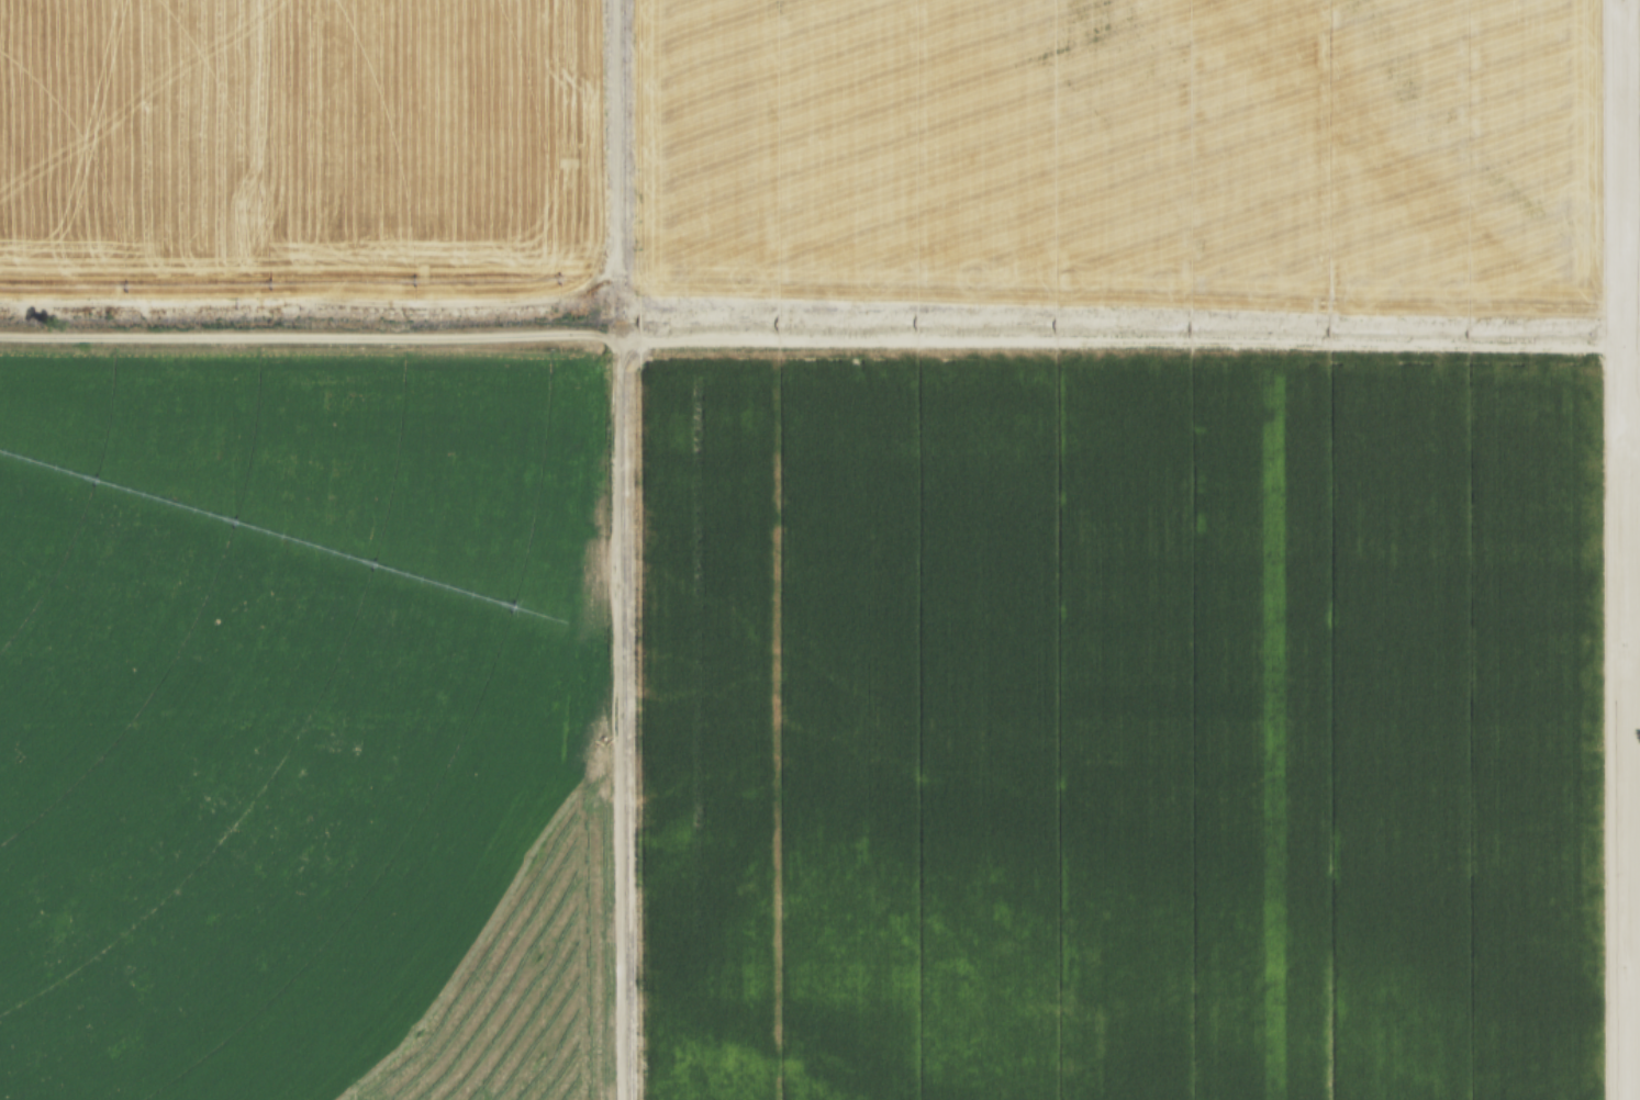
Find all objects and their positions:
road: (614, 416)
road: (1628, 550)

